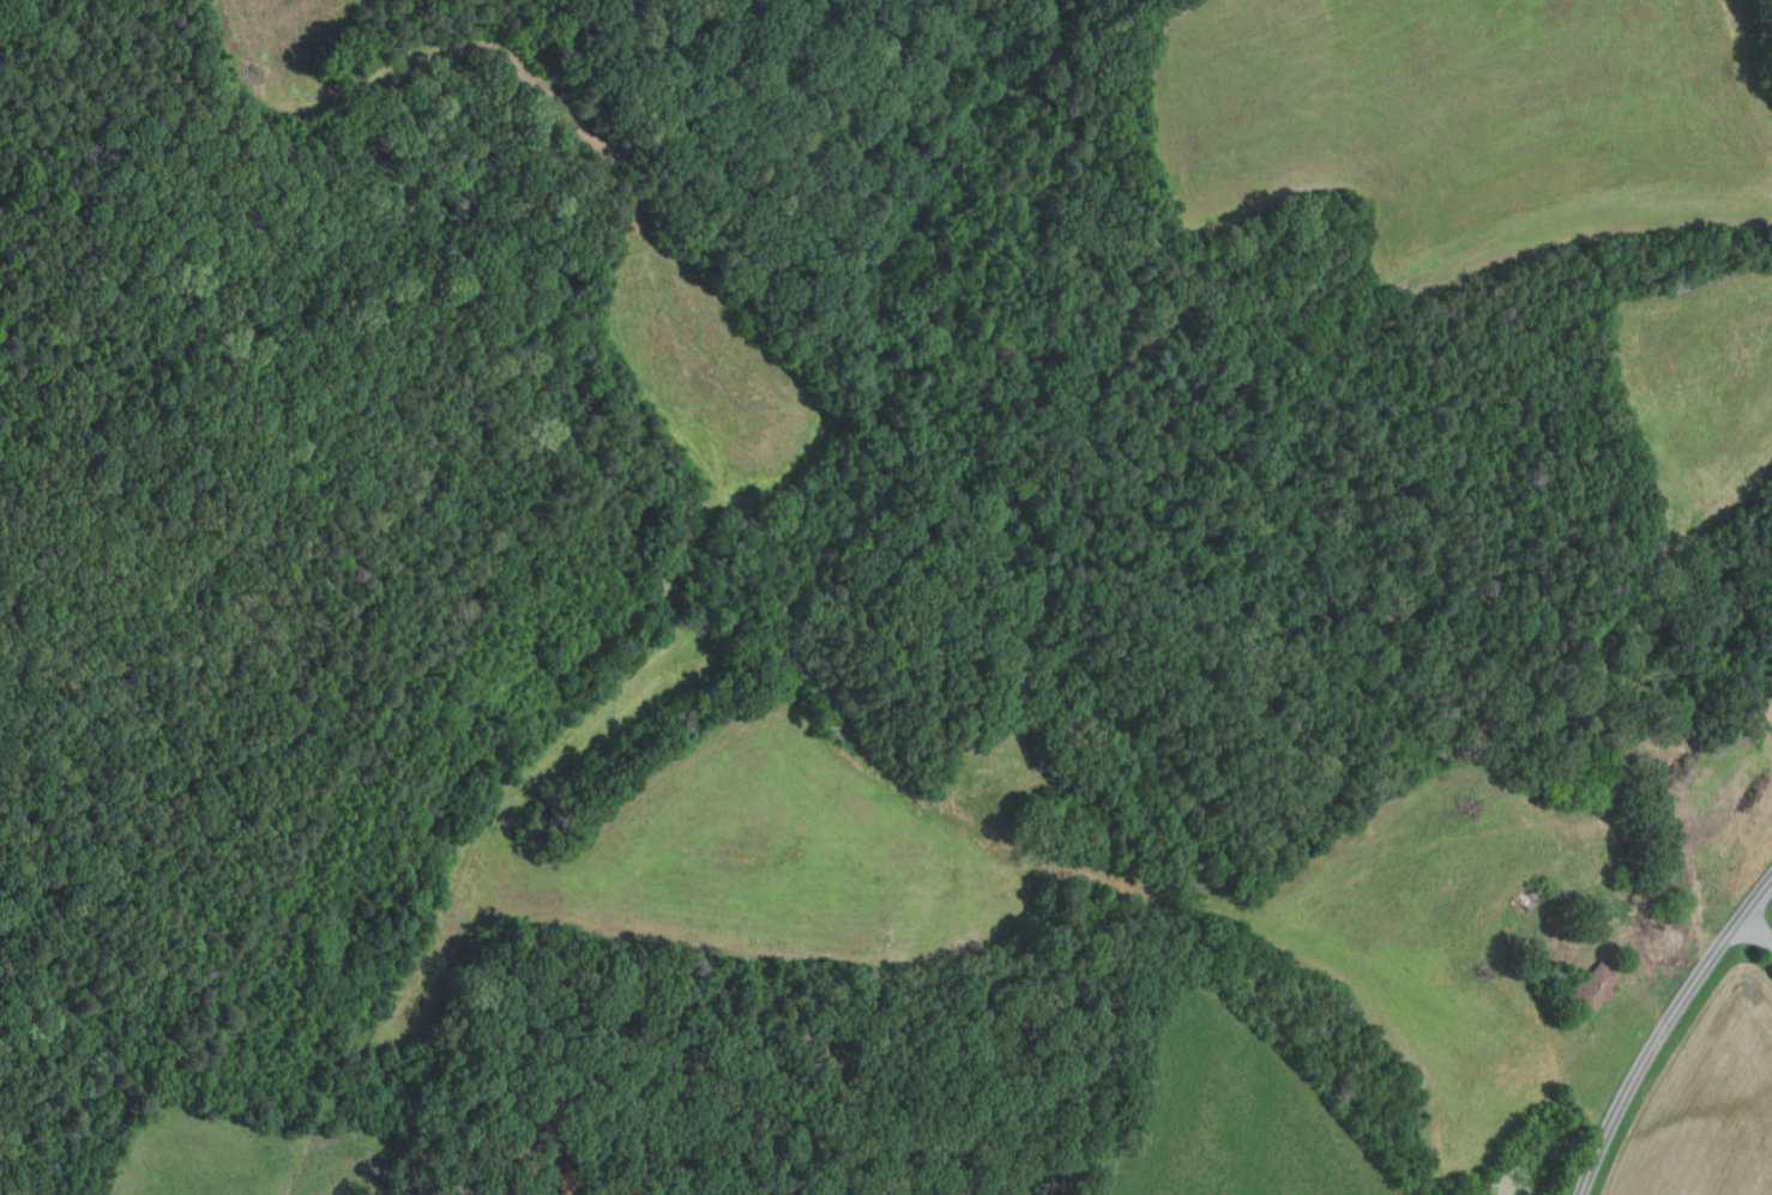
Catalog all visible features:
building: (1664, 708)
building: (1562, 780)
building: (1599, 803)
road: (1754, 933)
building: (1559, 972)
building: (1592, 989)
road: (1666, 1028)

